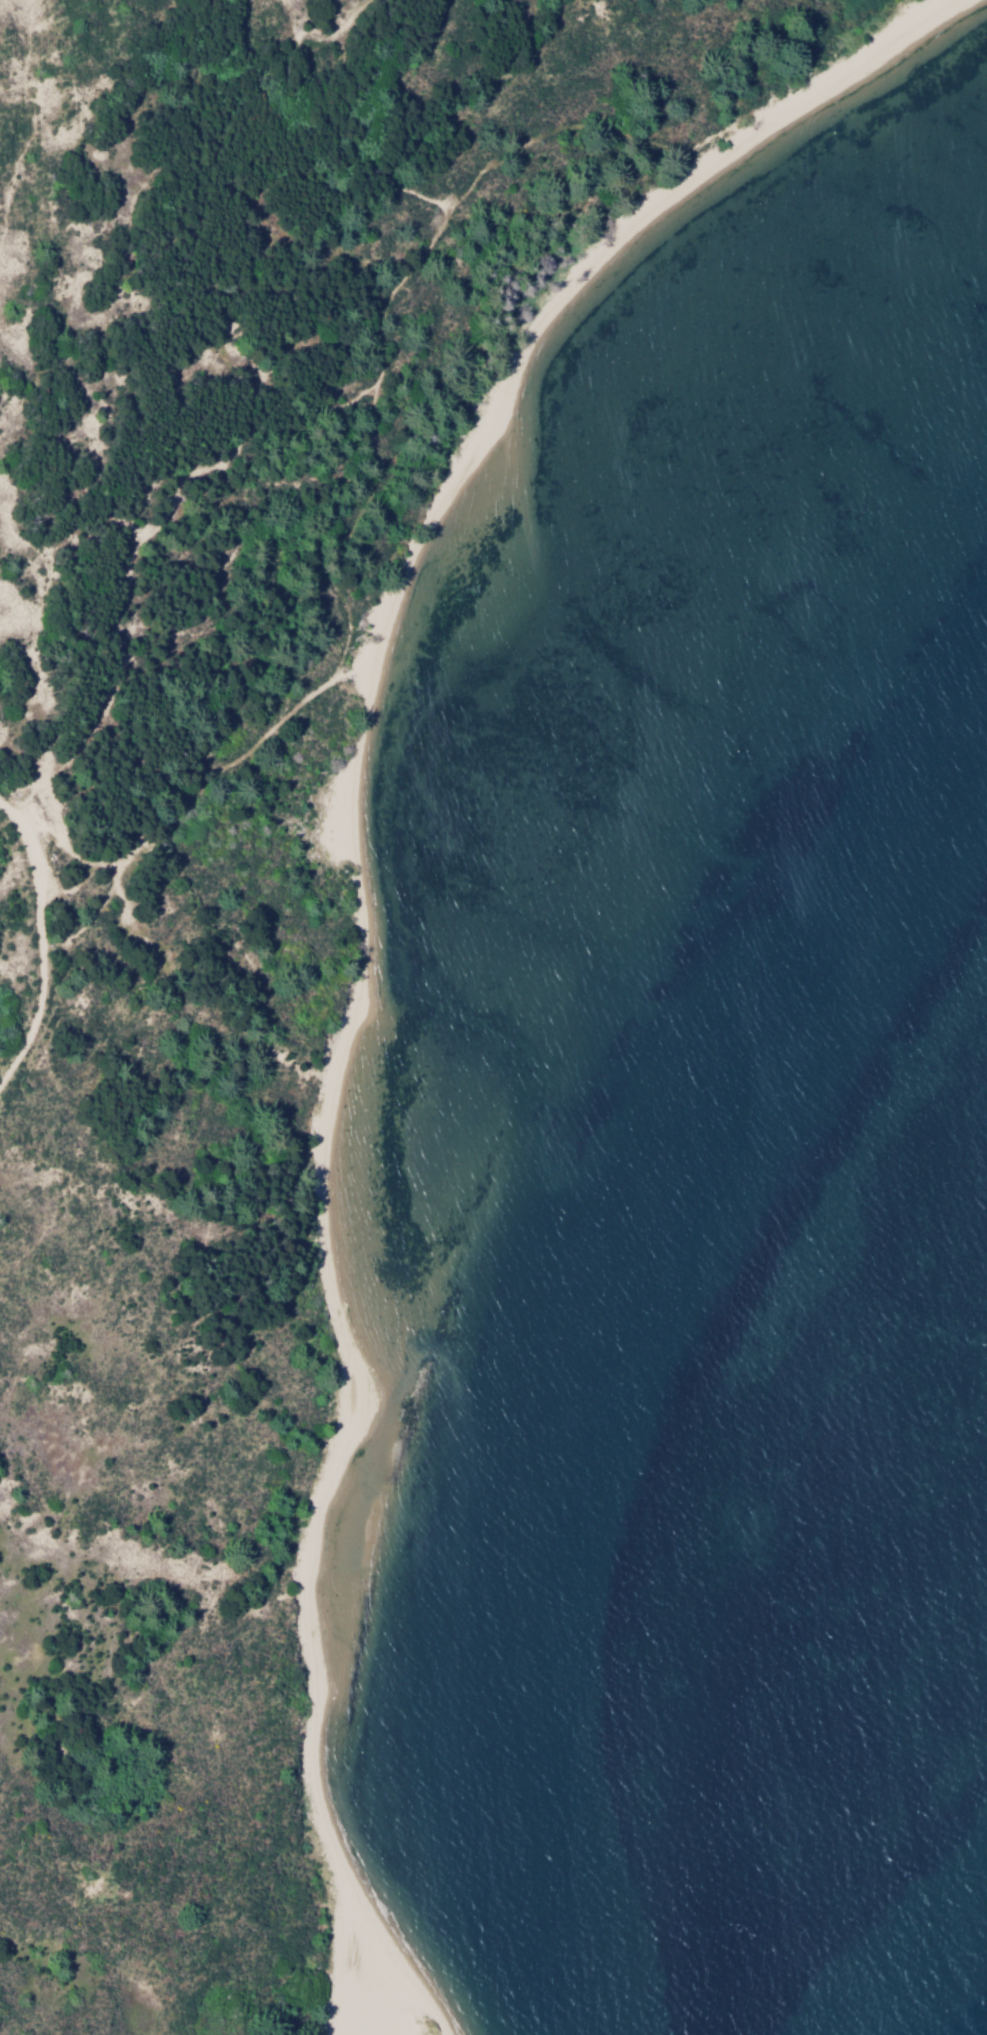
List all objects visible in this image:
road: (532, 136)
road: (182, 475)
road: (296, 705)
road: (61, 845)
road: (21, 945)

